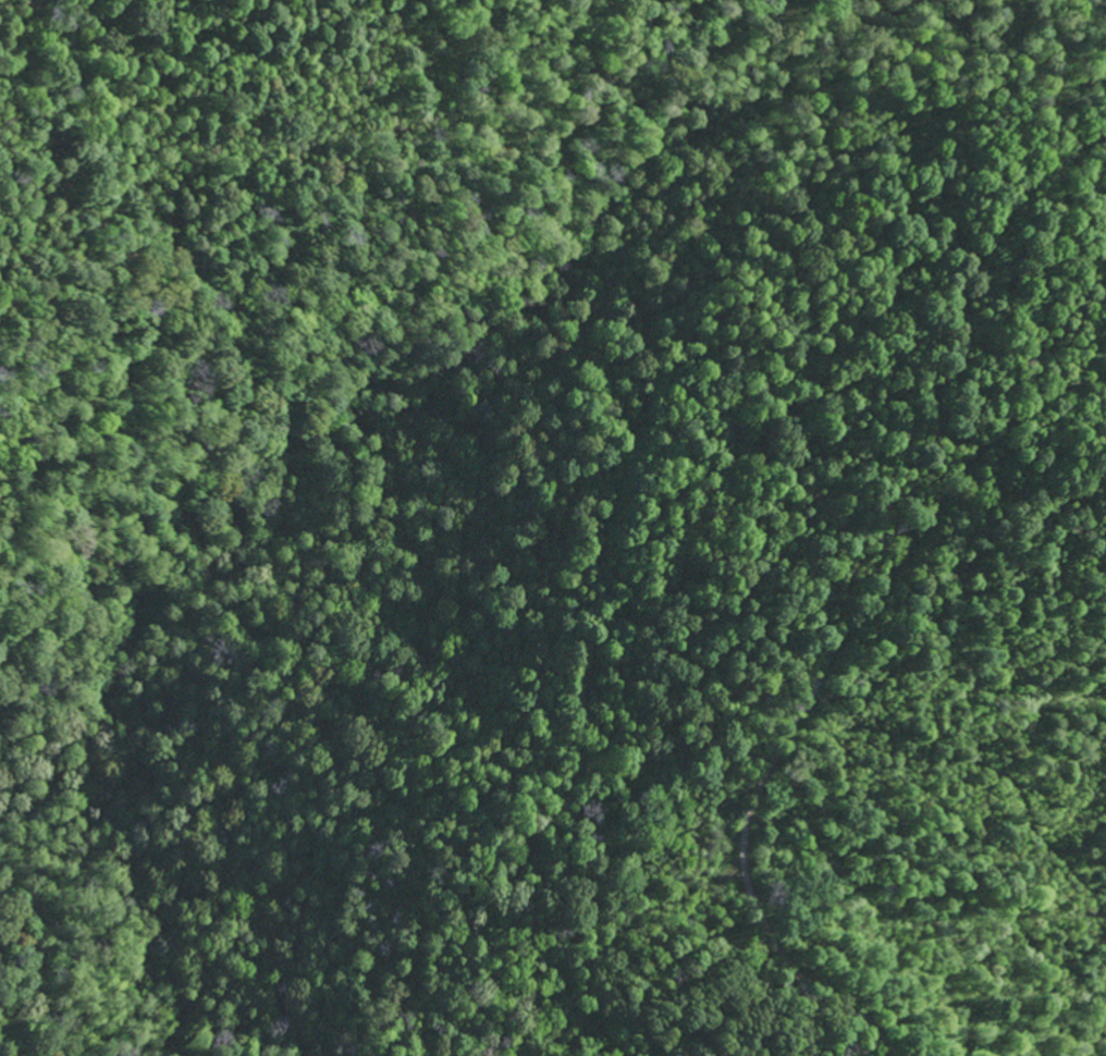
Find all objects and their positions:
road: (811, 690)

